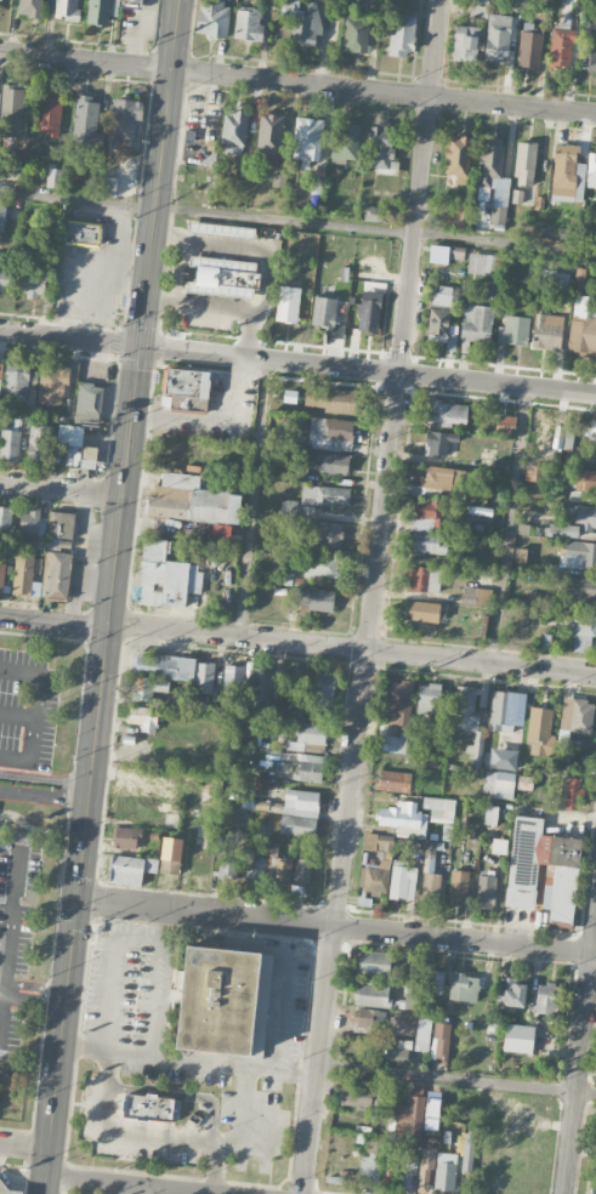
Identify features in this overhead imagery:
building: (0, 4)
building: (134, 4)
building: (30, 7)
building: (478, 7)
building: (68, 8)
building: (101, 12)
building: (212, 17)
building: (302, 21)
building: (248, 23)
building: (356, 33)
building: (403, 34)
building: (498, 38)
building: (464, 40)
building: (588, 42)
building: (529, 47)
building: (562, 47)
road: (297, 83)
building: (12, 101)
building: (50, 114)
building: (124, 118)
building: (85, 119)
building: (233, 131)
building: (269, 137)
building: (307, 140)
building: (344, 142)
building: (382, 147)
building: (456, 157)
building: (490, 163)
building: (524, 163)
building: (6, 167)
building: (571, 172)
building: (52, 174)
building: (197, 178)
building: (278, 180)
building: (109, 184)
building: (521, 197)
building: (375, 212)
building: (455, 216)
building: (2, 217)
road: (297, 222)
building: (221, 229)
building: (81, 234)
building: (444, 252)
building: (483, 263)
building: (2, 273)
building: (225, 278)
building: (579, 279)
building: (556, 284)
building: (34, 286)
building: (286, 302)
building: (441, 309)
building: (324, 312)
building: (369, 312)
building: (477, 322)
building: (512, 329)
building: (546, 330)
building: (581, 331)
road: (69, 339)
traffic signals: (138, 347)
building: (0, 369)
road: (367, 370)
building: (17, 382)
building: (0, 383)
building: (52, 386)
building: (186, 390)
building: (329, 400)
building: (89, 403)
building: (447, 413)
building: (505, 423)
building: (331, 432)
building: (592, 433)
building: (563, 434)
building: (35, 440)
building: (439, 442)
building: (11, 444)
building: (74, 447)
building: (171, 448)
building: (333, 464)
building: (437, 481)
building: (585, 481)
road: (61, 488)
building: (324, 495)
road: (255, 497)
building: (191, 500)
building: (5, 517)
building: (579, 521)
building: (32, 524)
building: (62, 524)
road: (511, 527)
building: (427, 528)
building: (328, 534)
building: (578, 553)
building: (465, 562)
building: (320, 567)
building: (1, 575)
building: (23, 575)
building: (59, 575)
building: (165, 576)
building: (424, 579)
building: (579, 587)
road: (110, 596)
building: (476, 596)
road: (374, 597)
building: (319, 599)
building: (422, 610)
road: (53, 621)
building: (483, 626)
building: (580, 633)
road: (352, 648)
building: (169, 672)
building: (233, 680)
building: (293, 683)
building: (262, 686)
building: (324, 689)
building: (427, 699)
building: (399, 703)
building: (506, 711)
road: (34, 712)
building: (575, 715)
building: (144, 717)
building: (469, 718)
building: (538, 724)
building: (311, 737)
building: (393, 744)
building: (307, 767)
road: (45, 779)
building: (499, 779)
building: (395, 781)
building: (524, 783)
building: (571, 792)
road: (45, 796)
building: (300, 812)
building: (490, 814)
building: (410, 815)
building: (126, 837)
building: (170, 855)
building: (227, 866)
building: (129, 868)
building: (255, 868)
building: (302, 869)
building: (280, 870)
building: (386, 871)
building: (430, 871)
building: (544, 871)
building: (458, 888)
building: (487, 889)
road: (336, 926)
road: (7, 950)
building: (371, 962)
road: (110, 974)
building: (436, 982)
building: (464, 987)
building: (510, 991)
building: (378, 994)
building: (546, 997)
building: (223, 1001)
road: (1, 1006)
building: (368, 1020)
road: (154, 1023)
building: (422, 1033)
building: (518, 1037)
building: (441, 1040)
building: (396, 1054)
road: (205, 1061)
road: (580, 1062)
road: (456, 1079)
building: (5, 1080)
road: (245, 1085)
building: (354, 1097)
building: (149, 1107)
building: (418, 1108)
road: (140, 1139)
road: (24, 1145)
building: (467, 1153)
building: (370, 1162)
building: (410, 1162)
building: (425, 1170)
building: (444, 1171)
building: (590, 1178)
building: (1, 1182)
road: (130, 1184)
road: (142, 1190)

